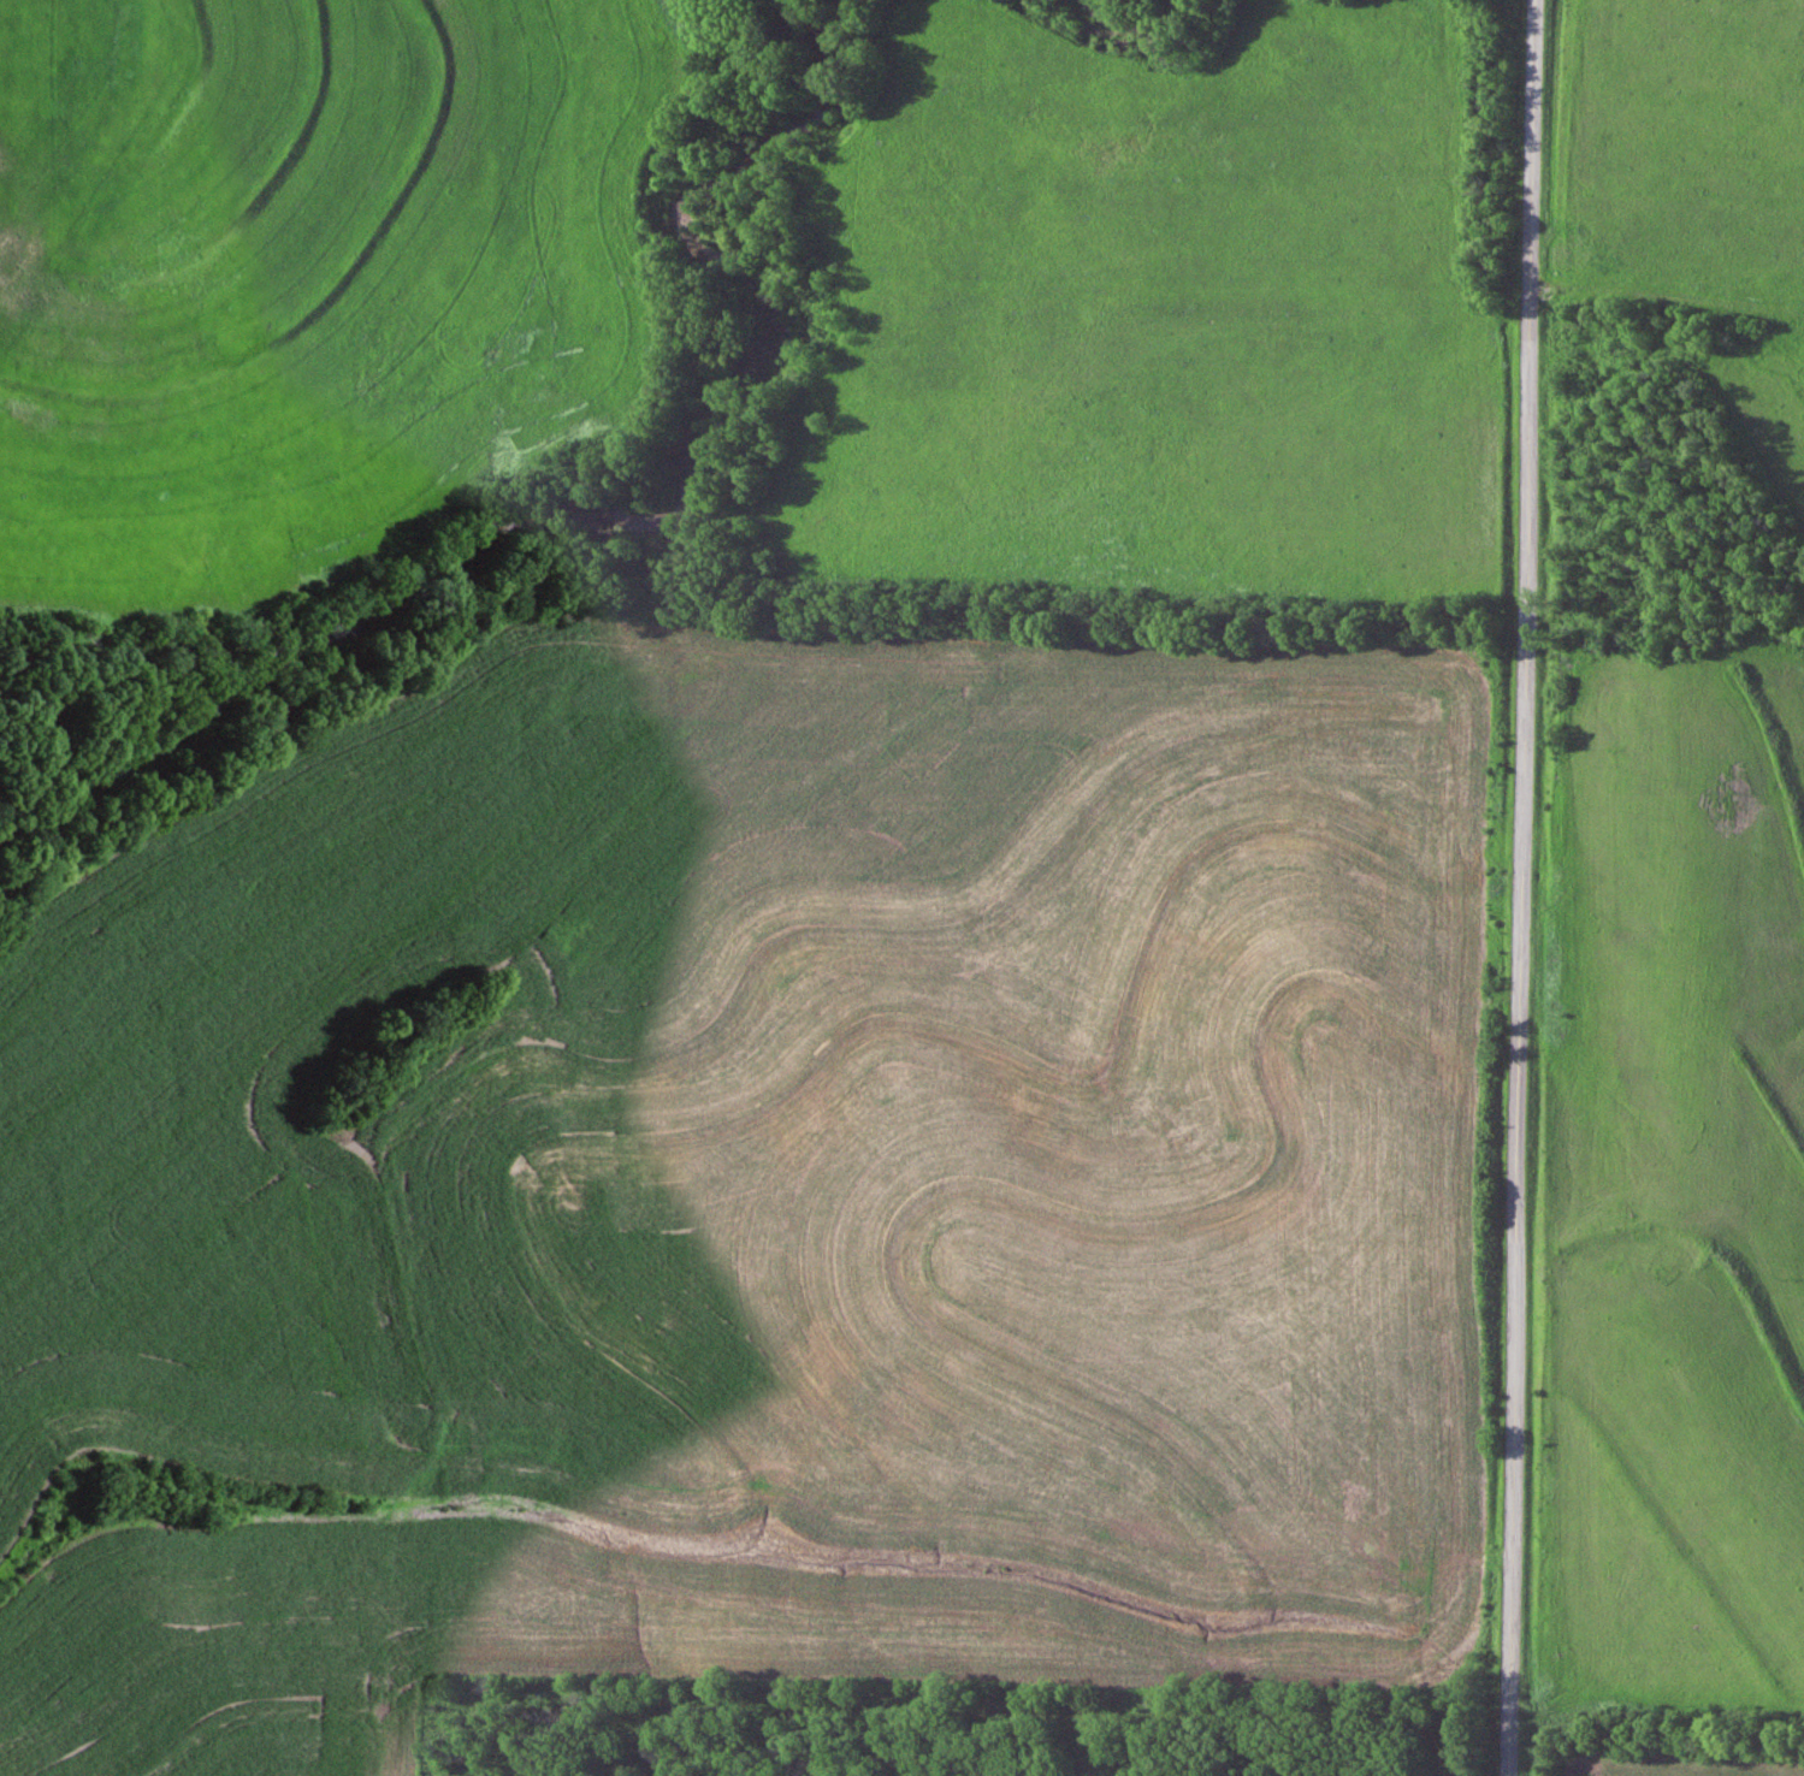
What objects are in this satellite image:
road: (1513, 887)

